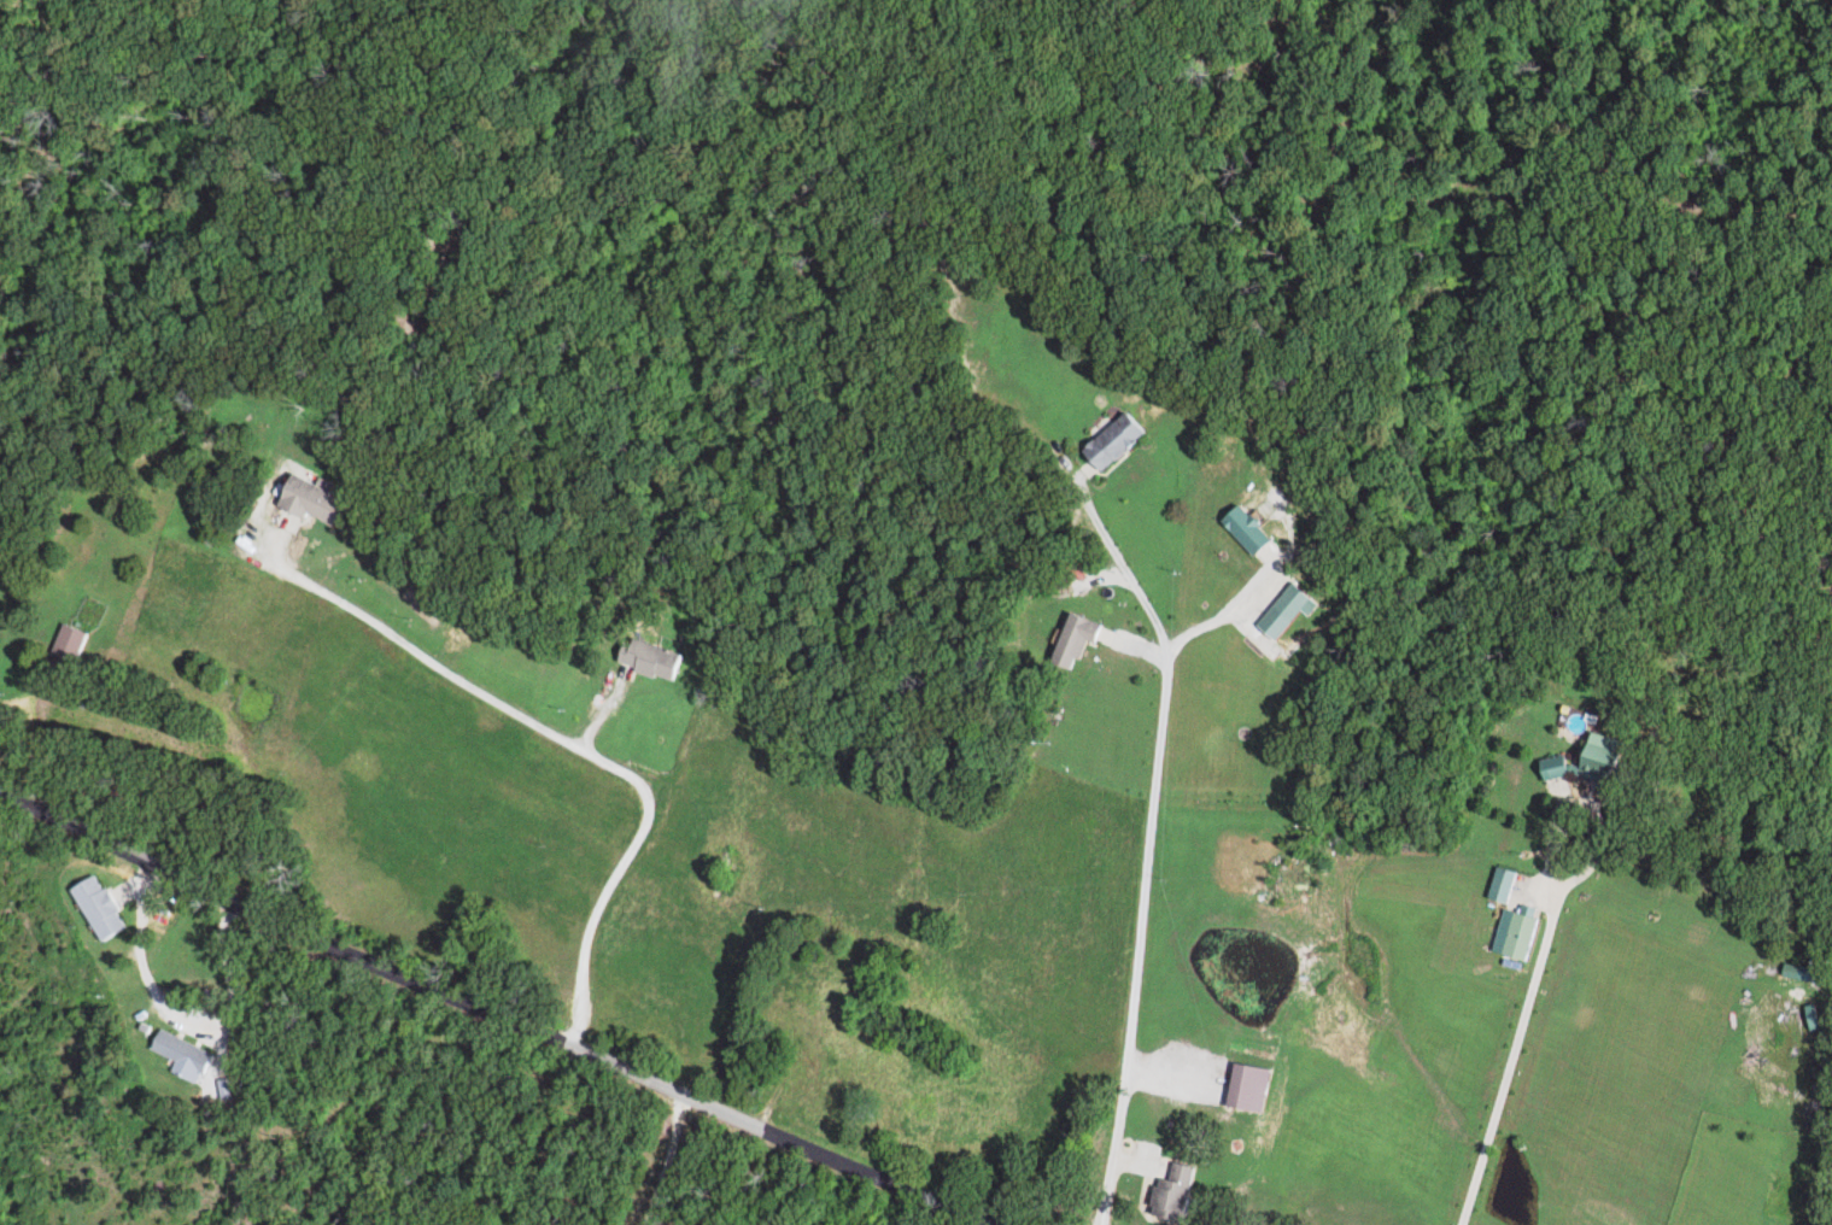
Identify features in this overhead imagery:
building: (1116, 441)
building: (314, 500)
building: (1077, 640)
building: (69, 644)
building: (654, 660)
building: (1591, 763)
road: (1145, 863)
building: (1504, 886)
building: (1517, 934)
building: (1808, 978)
road: (501, 1015)
building: (879, 1015)
building: (1816, 1018)
building: (181, 1053)
building: (1249, 1089)
road: (671, 1161)
building: (1178, 1194)

